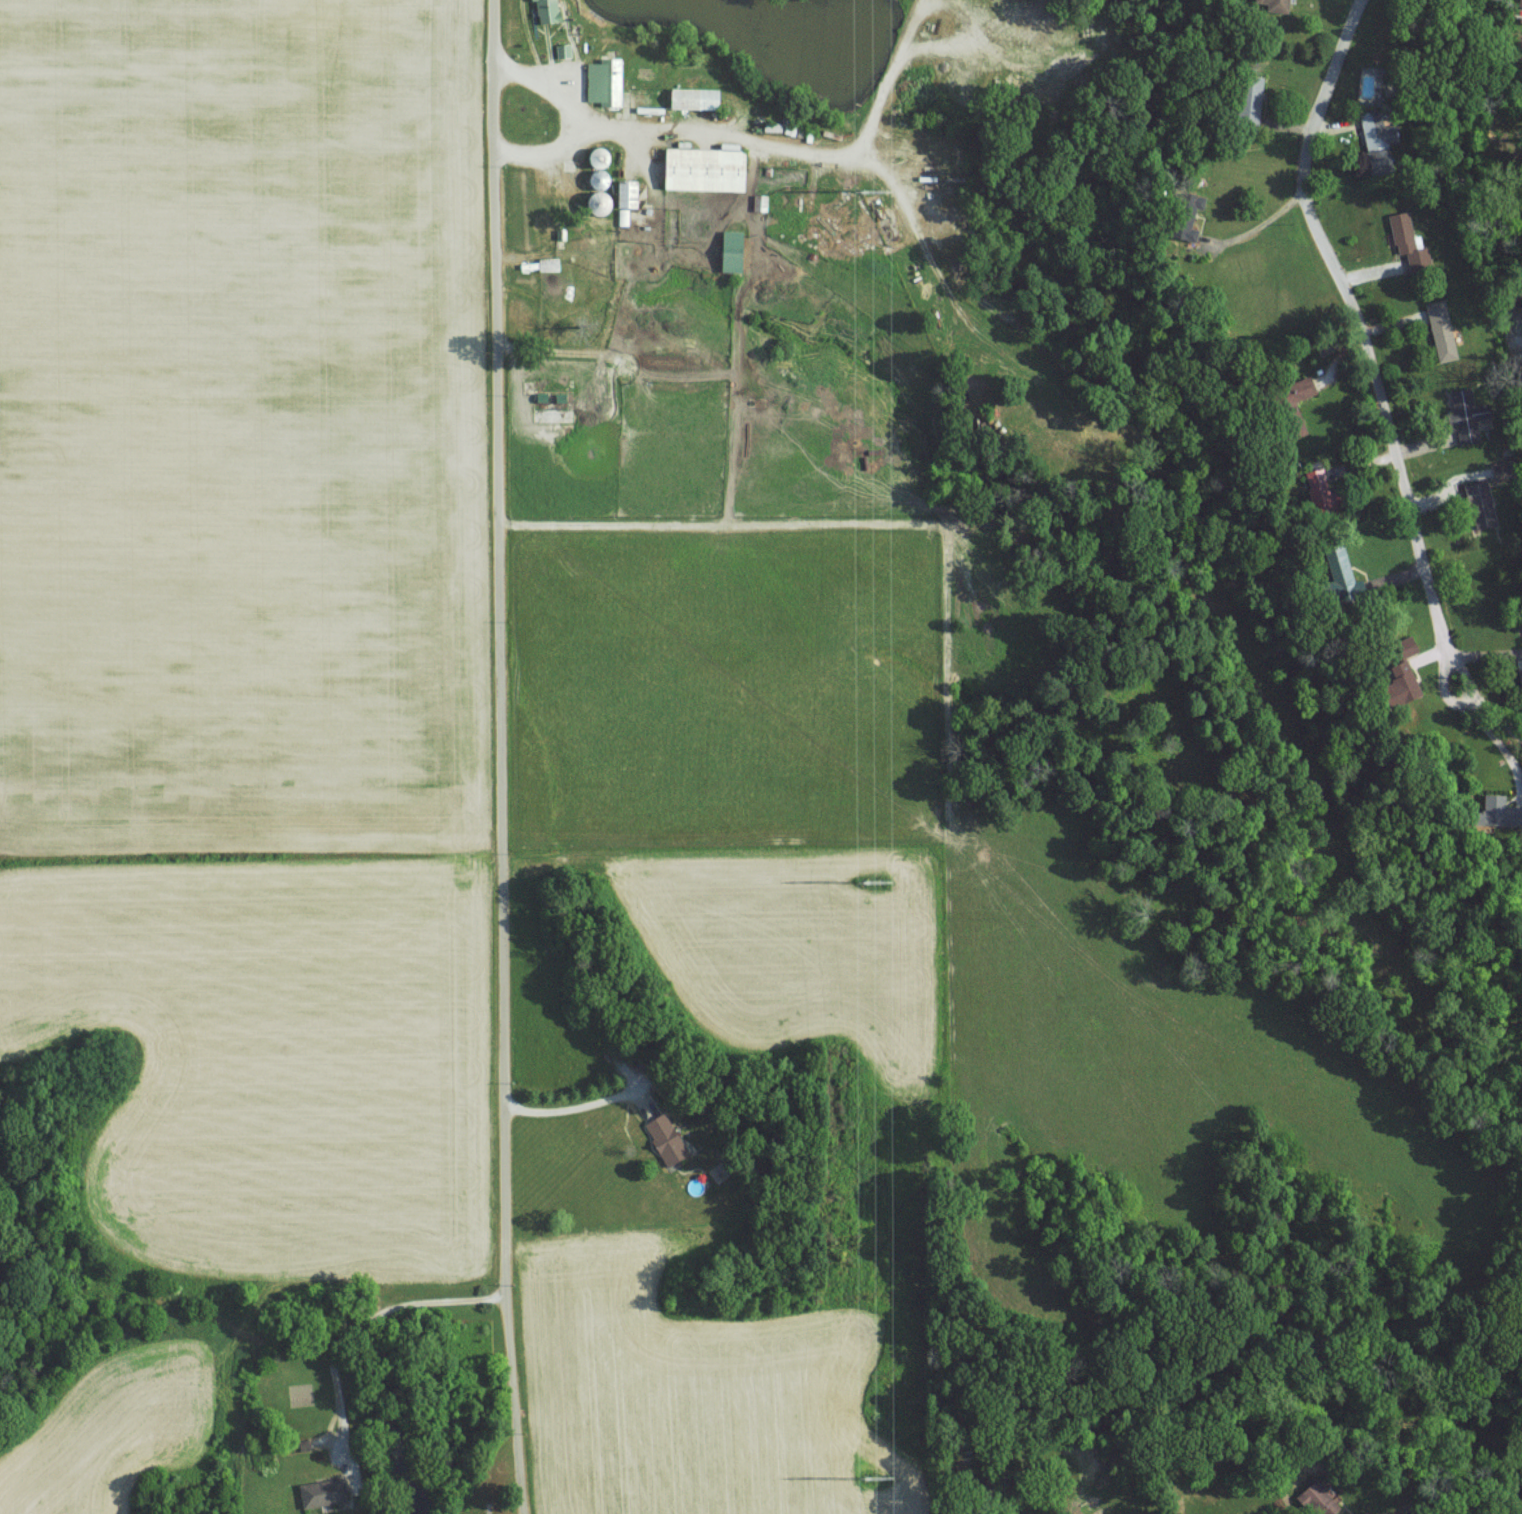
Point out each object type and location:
building: (1519, 3)
building: (1273, 5)
building: (550, 10)
building: (564, 50)
building: (607, 81)
building: (698, 98)
building: (1246, 101)
road: (572, 118)
road: (717, 132)
building: (711, 169)
building: (631, 193)
power tower: (871, 194)
building: (1183, 215)
building: (624, 217)
road: (1261, 224)
building: (1405, 241)
building: (737, 251)
building: (1438, 330)
road: (1368, 341)
building: (1291, 404)
building: (1461, 414)
building: (1314, 488)
building: (1477, 504)
building: (1332, 575)
building: (1398, 676)
building: (1519, 678)
road: (502, 757)
building: (1495, 812)
power tower: (876, 883)
road: (580, 1108)
building: (662, 1137)
road: (360, 1323)
power tower: (877, 1480)
building: (316, 1491)
building: (1314, 1498)
building: (1361, 1512)

